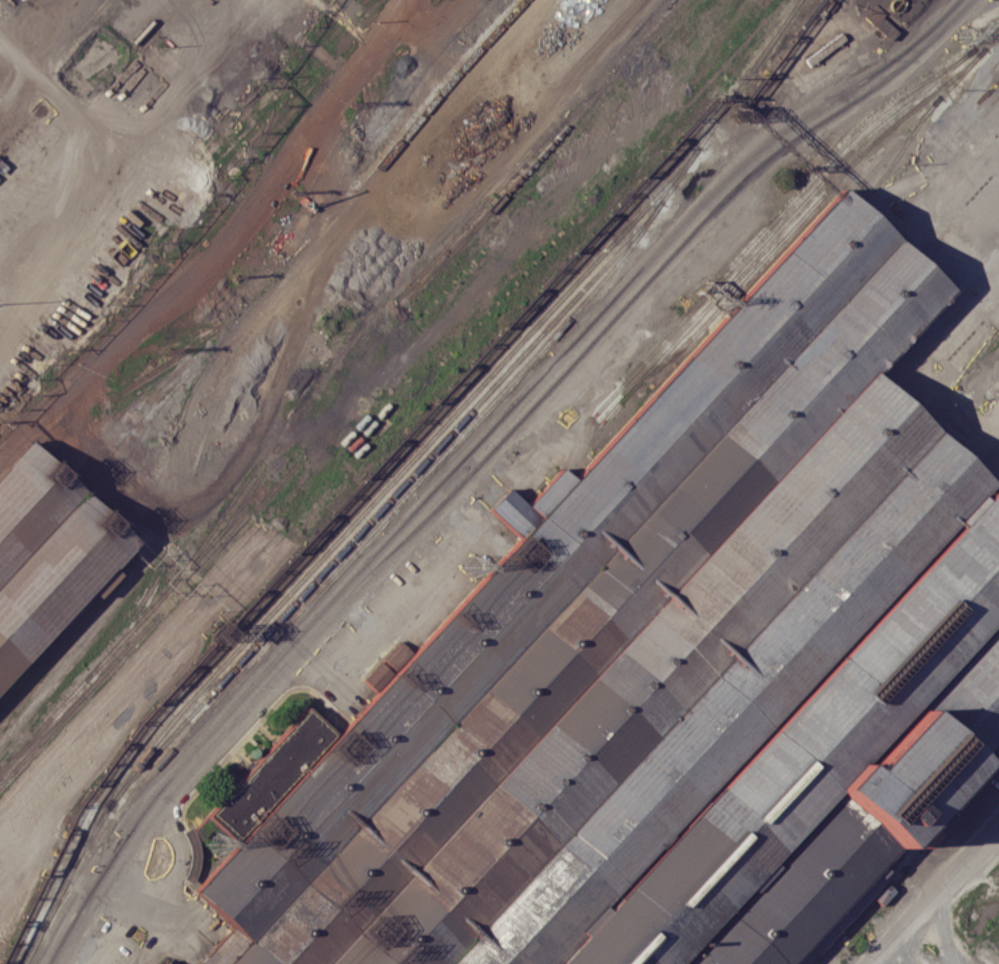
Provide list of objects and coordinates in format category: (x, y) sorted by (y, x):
building: (880, 22)
road: (129, 112)
railway: (923, 113)
railway: (532, 150)
railway: (901, 150)
railway: (541, 153)
road: (51, 190)
railway: (345, 205)
railway: (465, 209)
railway: (791, 214)
road: (919, 216)
railway: (774, 218)
railway: (798, 222)
road: (220, 240)
road: (345, 330)
road: (921, 373)
road: (476, 451)
railway: (391, 468)
railway: (375, 498)
building: (30, 502)
railway: (384, 504)
railway: (390, 511)
building: (56, 578)
road: (85, 634)
building: (666, 675)
road: (937, 897)
road: (879, 962)

